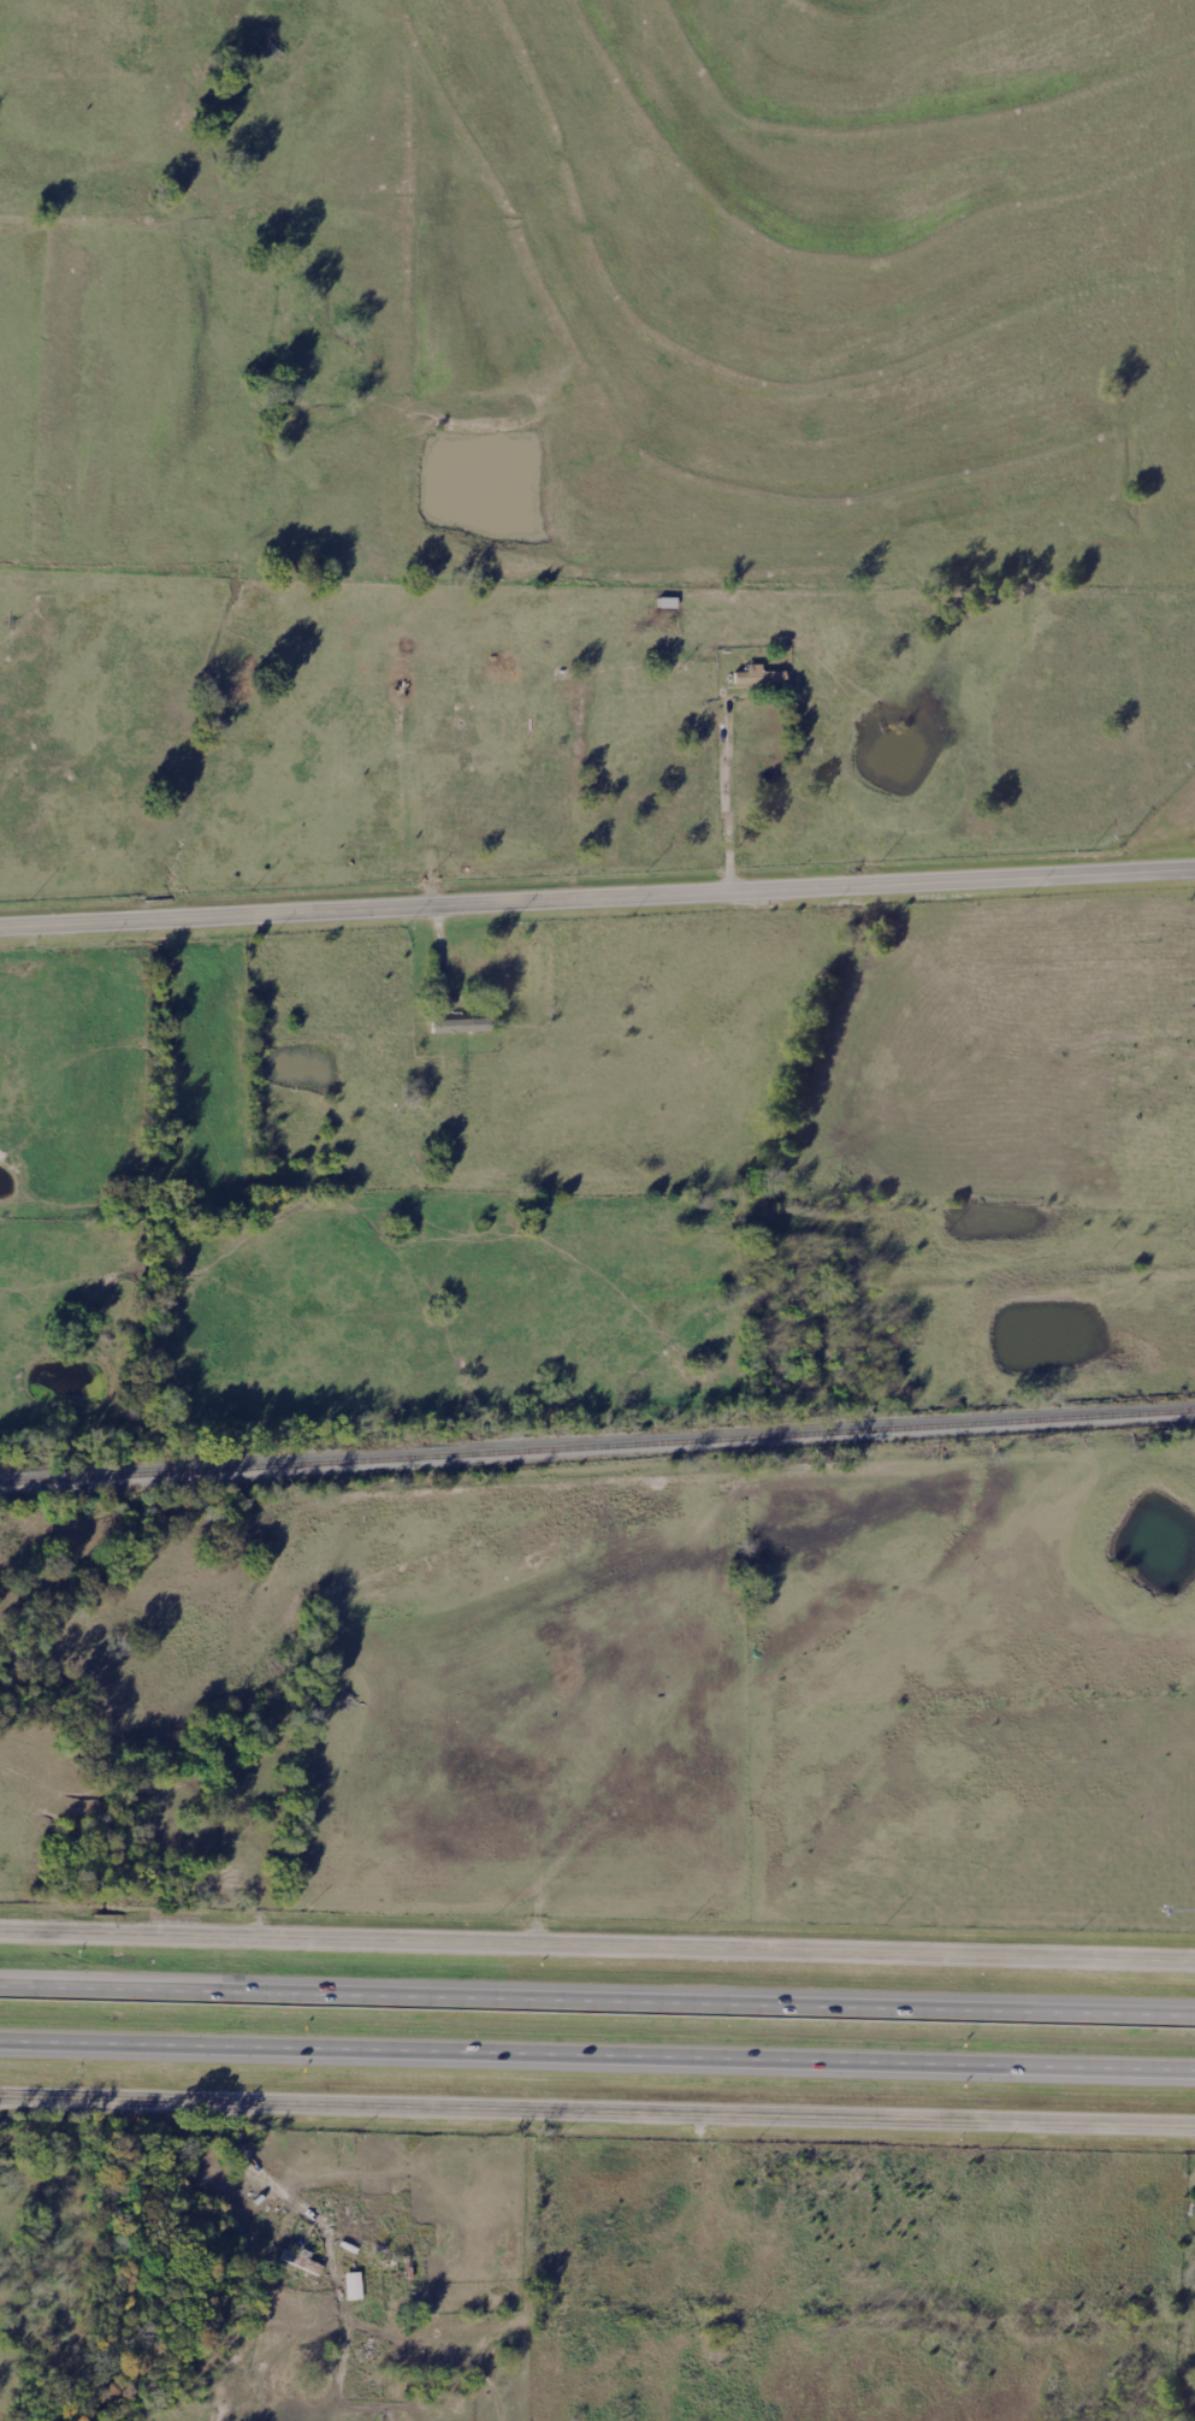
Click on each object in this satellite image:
building: (753, 681)
road: (727, 795)
road: (597, 899)
building: (454, 1029)
railway: (597, 1452)
road: (597, 1942)
road: (597, 2003)
road: (597, 2059)
road: (597, 2115)
road: (249, 2160)
building: (289, 2258)
building: (349, 2289)

